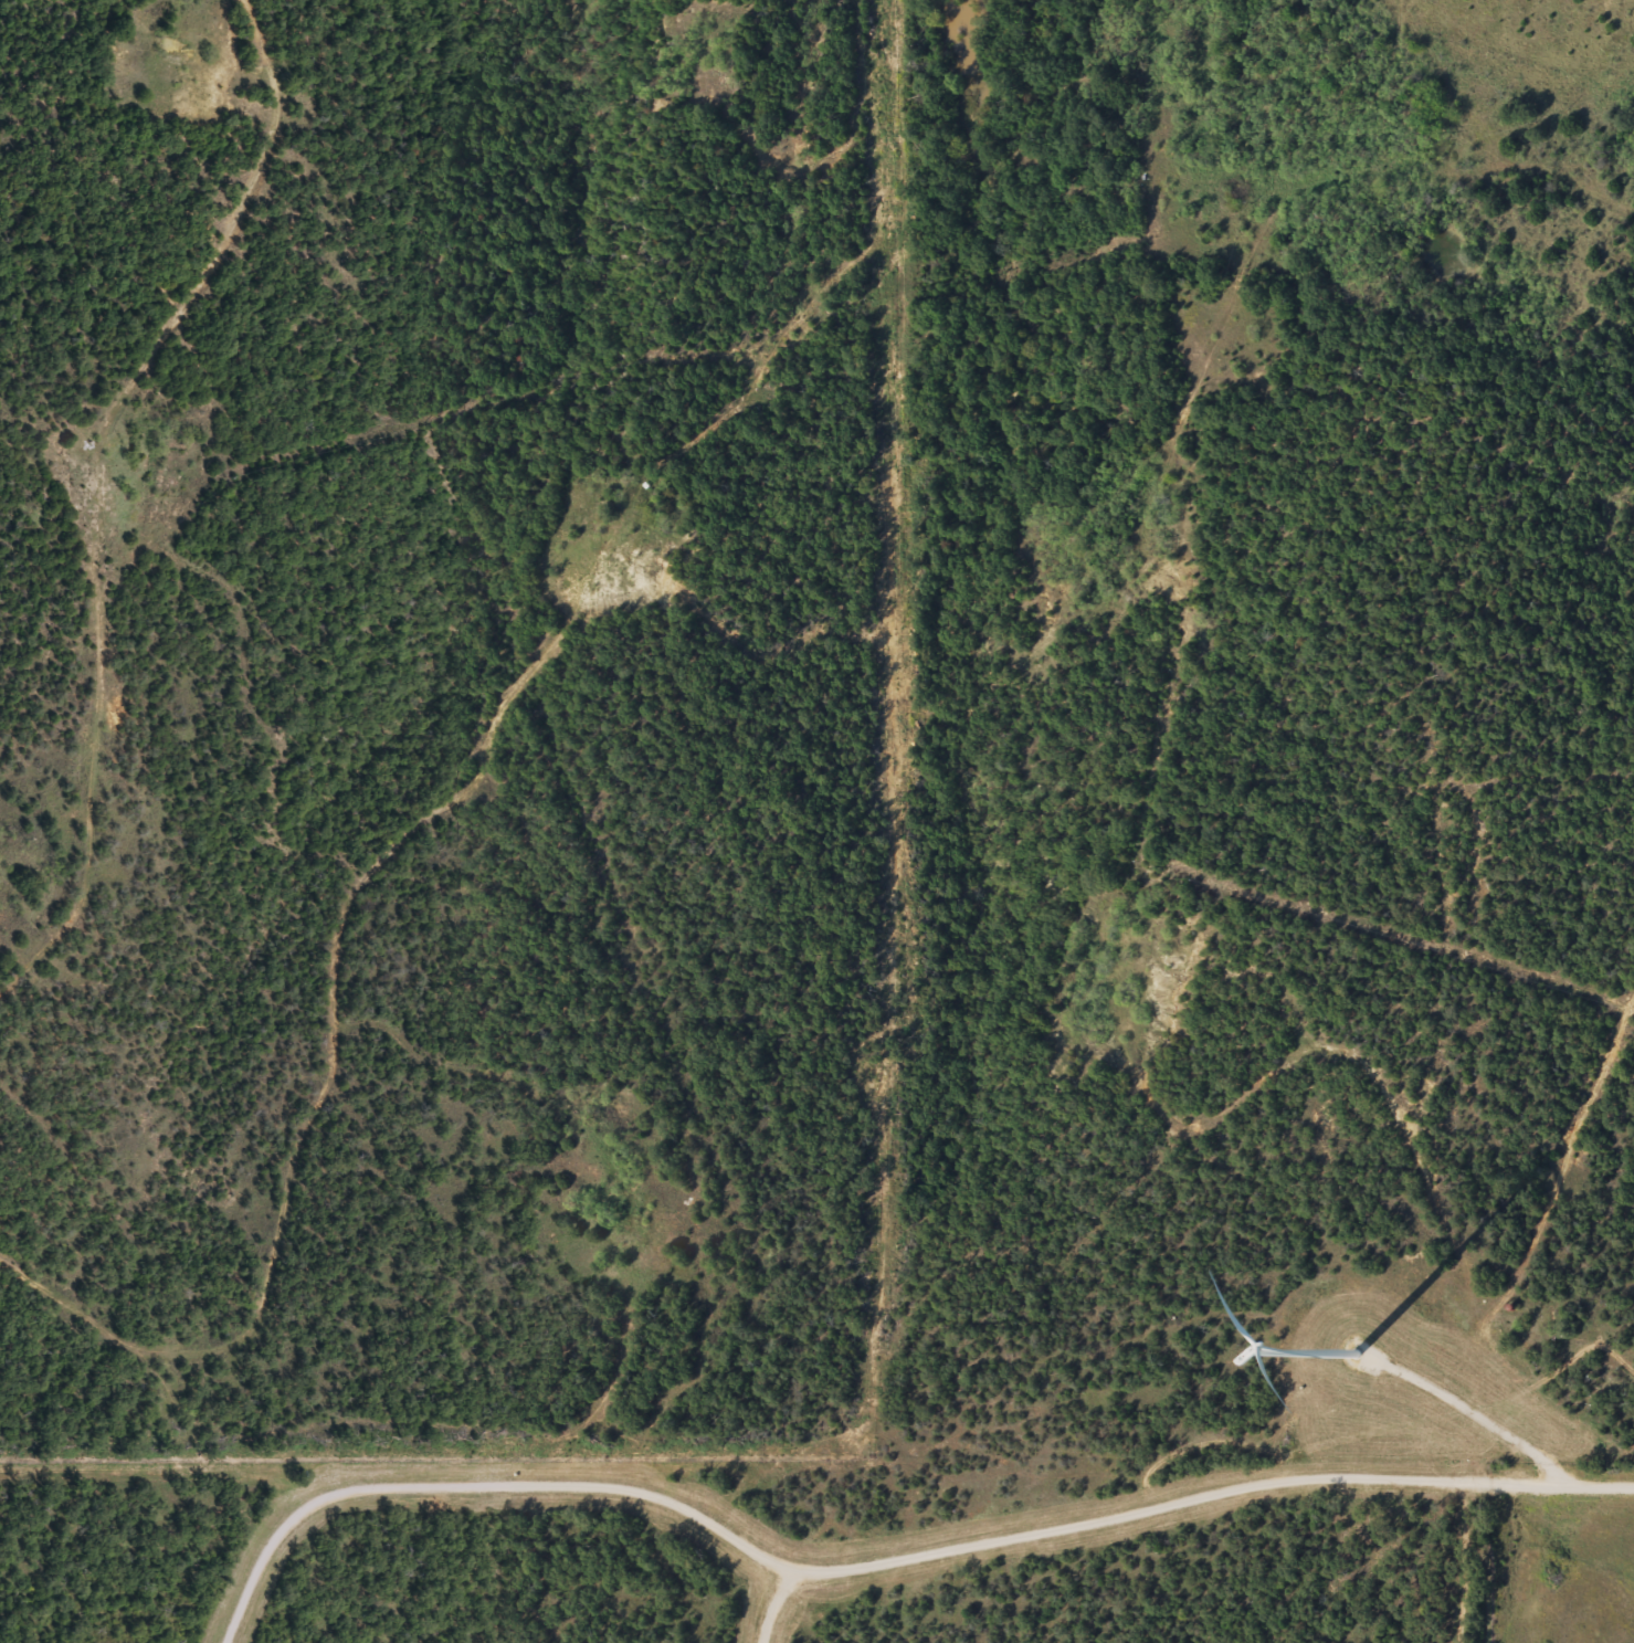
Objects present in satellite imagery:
wind turbine: (1363, 1352)

